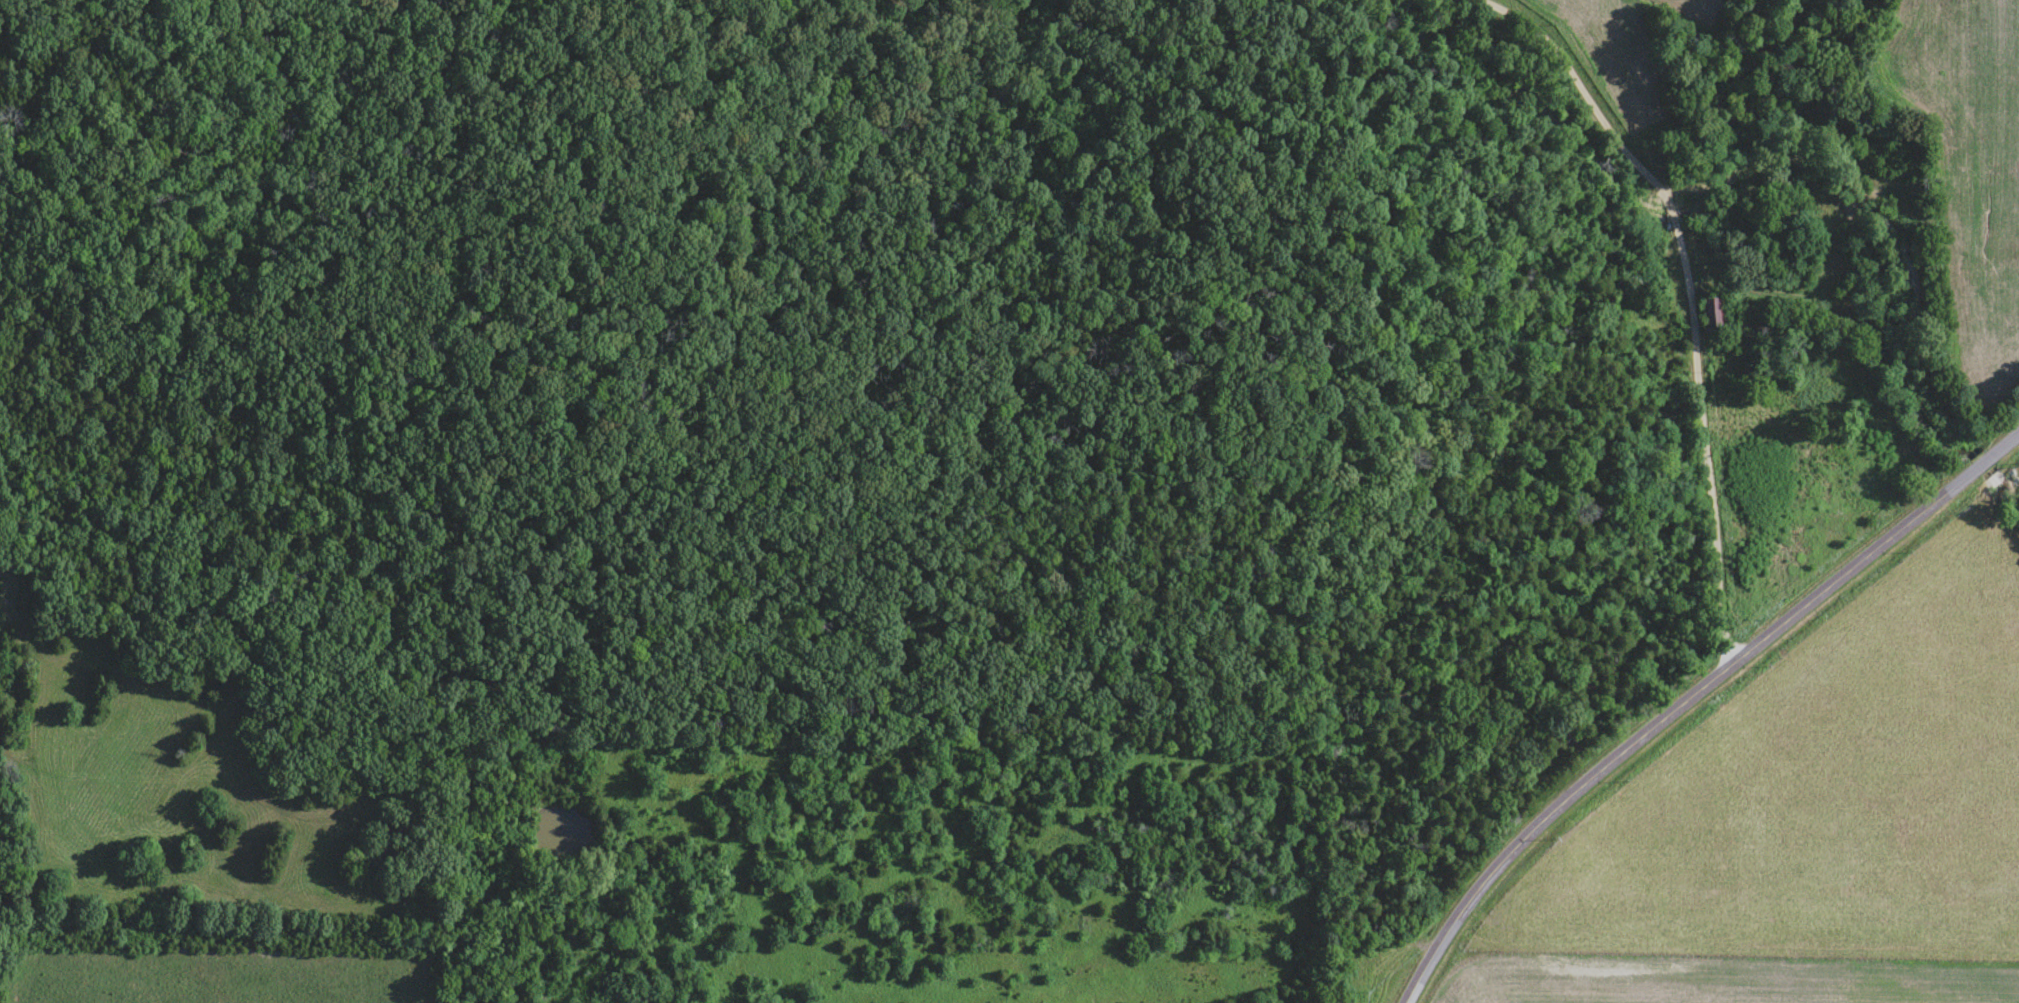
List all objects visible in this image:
road: (1690, 296)
building: (1714, 312)
road: (1691, 699)

